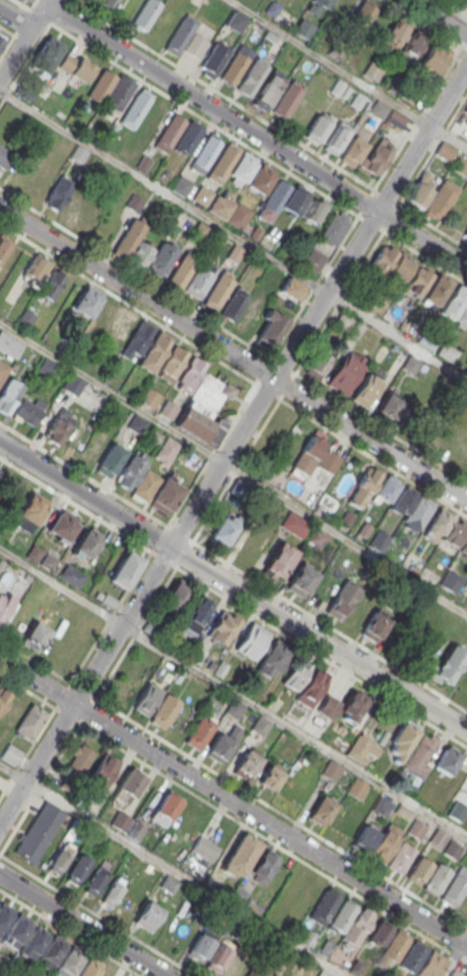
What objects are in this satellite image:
building: (464, 1)
building: (107, 3)
building: (324, 4)
road: (26, 8)
building: (362, 15)
building: (146, 16)
road: (439, 17)
road: (16, 19)
building: (236, 20)
building: (304, 27)
building: (394, 36)
building: (181, 37)
building: (2, 40)
road: (12, 40)
road: (24, 40)
building: (414, 43)
building: (196, 46)
building: (48, 53)
building: (434, 58)
building: (214, 60)
road: (329, 63)
building: (236, 67)
building: (75, 68)
building: (373, 72)
building: (253, 78)
building: (102, 87)
building: (268, 89)
building: (119, 93)
building: (288, 100)
building: (135, 108)
building: (378, 109)
building: (394, 120)
building: (460, 124)
building: (318, 127)
building: (170, 134)
road: (257, 135)
building: (337, 137)
road: (448, 138)
building: (352, 151)
building: (445, 151)
building: (206, 153)
building: (79, 154)
building: (377, 156)
building: (4, 158)
building: (223, 164)
building: (460, 165)
building: (20, 176)
building: (261, 179)
building: (182, 187)
building: (421, 189)
building: (58, 193)
building: (203, 196)
building: (273, 199)
building: (295, 199)
building: (441, 199)
building: (135, 204)
building: (75, 206)
building: (219, 209)
building: (315, 210)
building: (239, 217)
building: (334, 228)
building: (200, 231)
building: (465, 232)
road: (234, 236)
building: (128, 240)
building: (4, 246)
building: (235, 254)
building: (314, 259)
building: (162, 261)
building: (391, 264)
building: (34, 271)
building: (183, 271)
building: (51, 284)
building: (427, 286)
building: (292, 289)
building: (220, 291)
building: (87, 302)
building: (453, 302)
road: (127, 304)
building: (235, 304)
building: (462, 319)
building: (344, 321)
building: (122, 323)
building: (271, 331)
building: (139, 340)
building: (10, 345)
building: (156, 352)
building: (446, 352)
road: (233, 354)
building: (318, 364)
building: (173, 365)
building: (45, 366)
building: (3, 371)
building: (345, 372)
building: (191, 376)
building: (72, 384)
building: (366, 390)
building: (9, 395)
building: (94, 398)
building: (150, 398)
building: (389, 405)
building: (205, 410)
building: (26, 411)
building: (118, 414)
road: (302, 414)
building: (136, 424)
building: (58, 426)
road: (233, 445)
building: (93, 449)
building: (166, 451)
building: (310, 452)
building: (110, 460)
building: (329, 461)
road: (233, 468)
building: (0, 470)
building: (131, 470)
building: (145, 485)
building: (363, 487)
building: (386, 489)
building: (167, 493)
building: (412, 507)
building: (30, 511)
building: (295, 524)
building: (437, 524)
building: (62, 526)
building: (223, 532)
building: (454, 535)
building: (379, 540)
building: (87, 542)
building: (464, 548)
building: (278, 560)
road: (233, 568)
building: (125, 569)
building: (71, 575)
building: (301, 579)
road: (233, 586)
building: (175, 596)
building: (341, 600)
building: (4, 604)
building: (196, 617)
building: (93, 622)
building: (376, 624)
building: (223, 627)
building: (28, 629)
building: (251, 640)
building: (73, 651)
building: (196, 653)
building: (273, 659)
building: (447, 665)
building: (295, 674)
building: (311, 688)
road: (233, 692)
building: (3, 698)
building: (147, 699)
building: (342, 707)
building: (234, 709)
building: (165, 711)
building: (30, 720)
road: (44, 724)
building: (260, 725)
building: (200, 733)
building: (401, 741)
building: (222, 744)
building: (362, 748)
building: (12, 754)
building: (422, 754)
building: (80, 759)
building: (247, 763)
building: (446, 763)
building: (331, 770)
building: (103, 771)
building: (270, 777)
building: (127, 786)
building: (356, 788)
road: (233, 803)
building: (167, 805)
building: (383, 807)
building: (322, 809)
building: (343, 824)
building: (127, 825)
building: (416, 829)
building: (39, 832)
building: (438, 837)
building: (383, 845)
building: (205, 848)
building: (240, 855)
building: (60, 857)
building: (401, 857)
building: (264, 866)
building: (78, 869)
road: (171, 869)
building: (419, 870)
building: (436, 879)
building: (95, 880)
building: (453, 889)
building: (113, 890)
building: (324, 905)
building: (342, 914)
building: (147, 916)
building: (4, 919)
road: (83, 925)
building: (380, 932)
building: (184, 933)
road: (464, 940)
building: (203, 944)
building: (395, 946)
building: (51, 953)
building: (412, 956)
road: (452, 960)
building: (227, 962)
building: (68, 963)
building: (430, 965)
building: (90, 967)
building: (259, 971)
building: (322, 973)
building: (271, 975)

